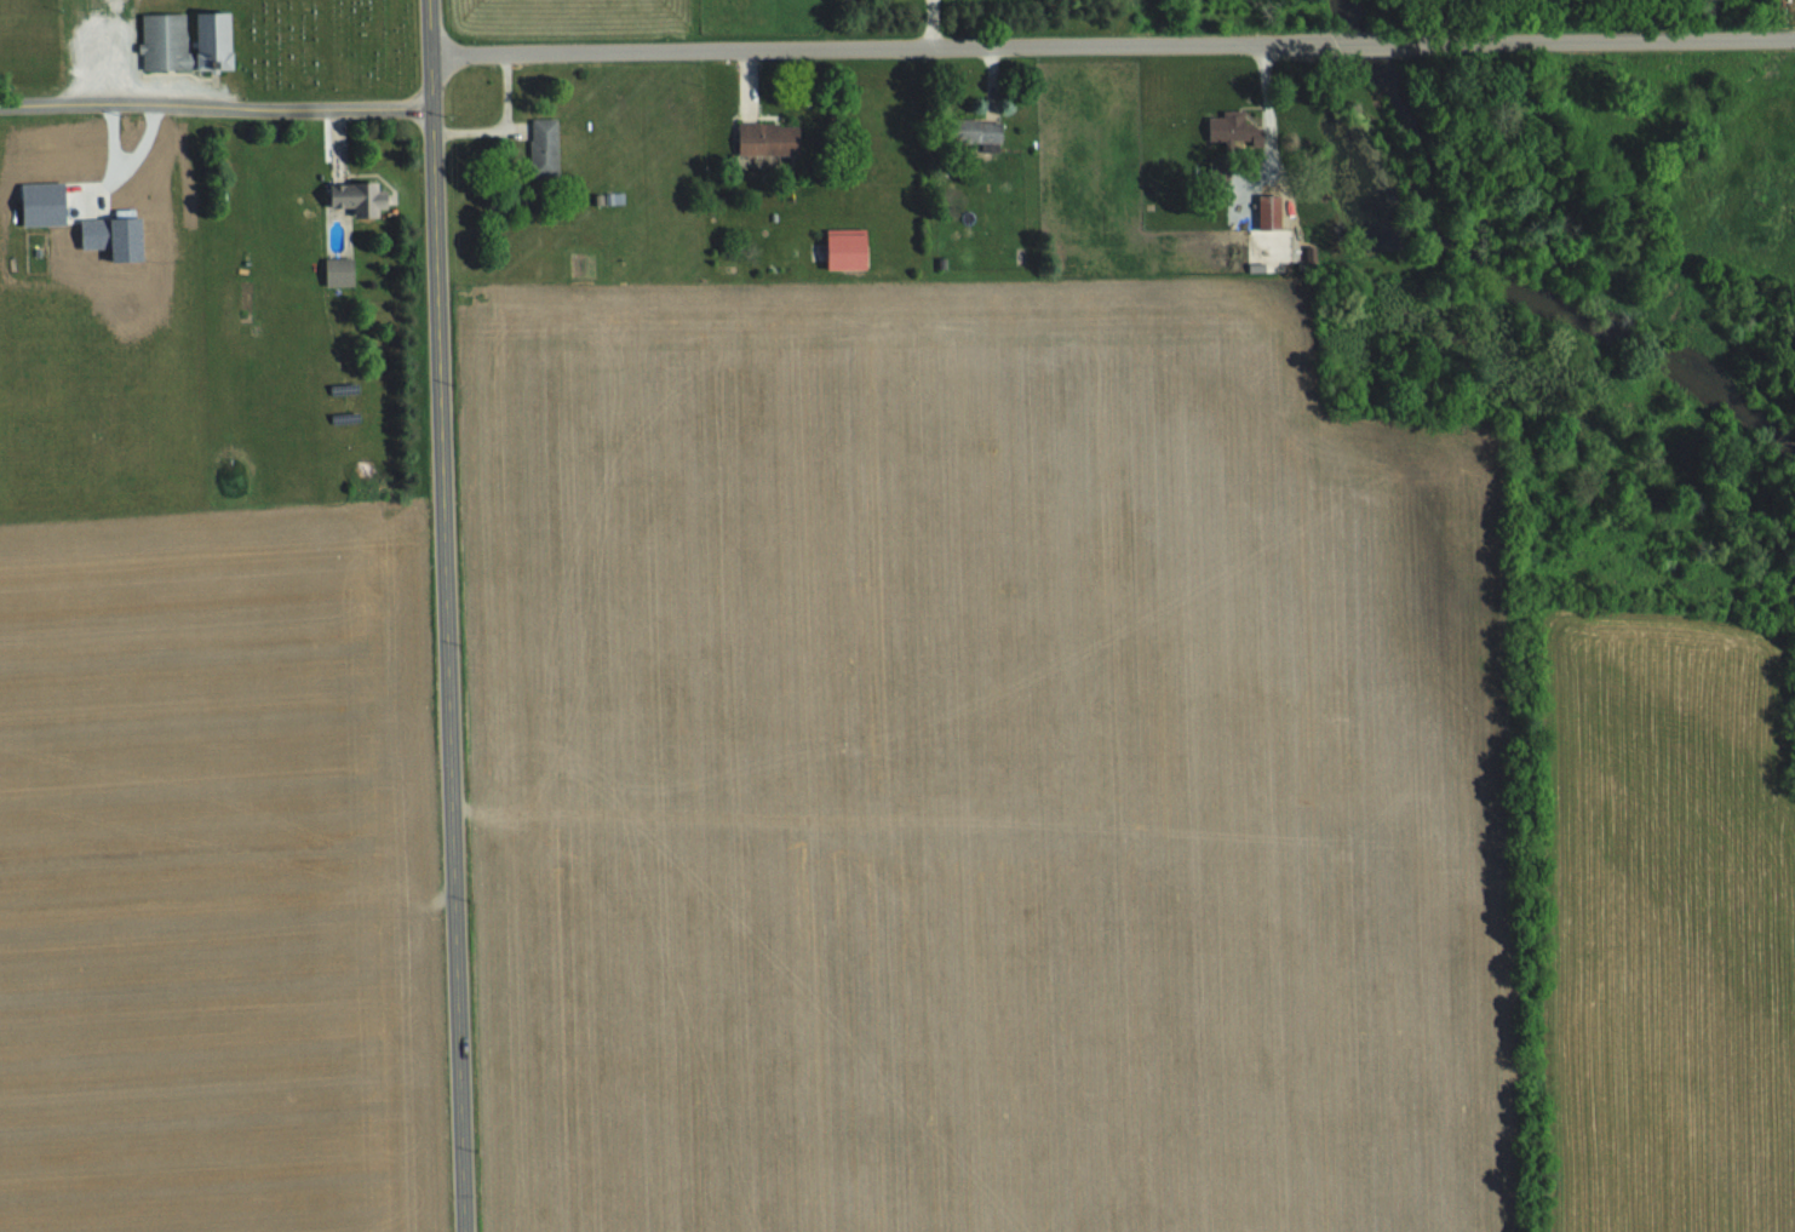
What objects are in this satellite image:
road: (929, 23)
road: (430, 27)
road: (1615, 39)
building: (168, 40)
building: (218, 40)
road: (1387, 41)
park: (200, 44)
road: (885, 46)
road: (216, 109)
road: (1267, 113)
road: (503, 125)
building: (981, 131)
building: (1232, 133)
building: (773, 138)
building: (546, 147)
building: (361, 196)
building: (1273, 211)
building: (851, 248)
building: (343, 270)
road: (447, 642)

